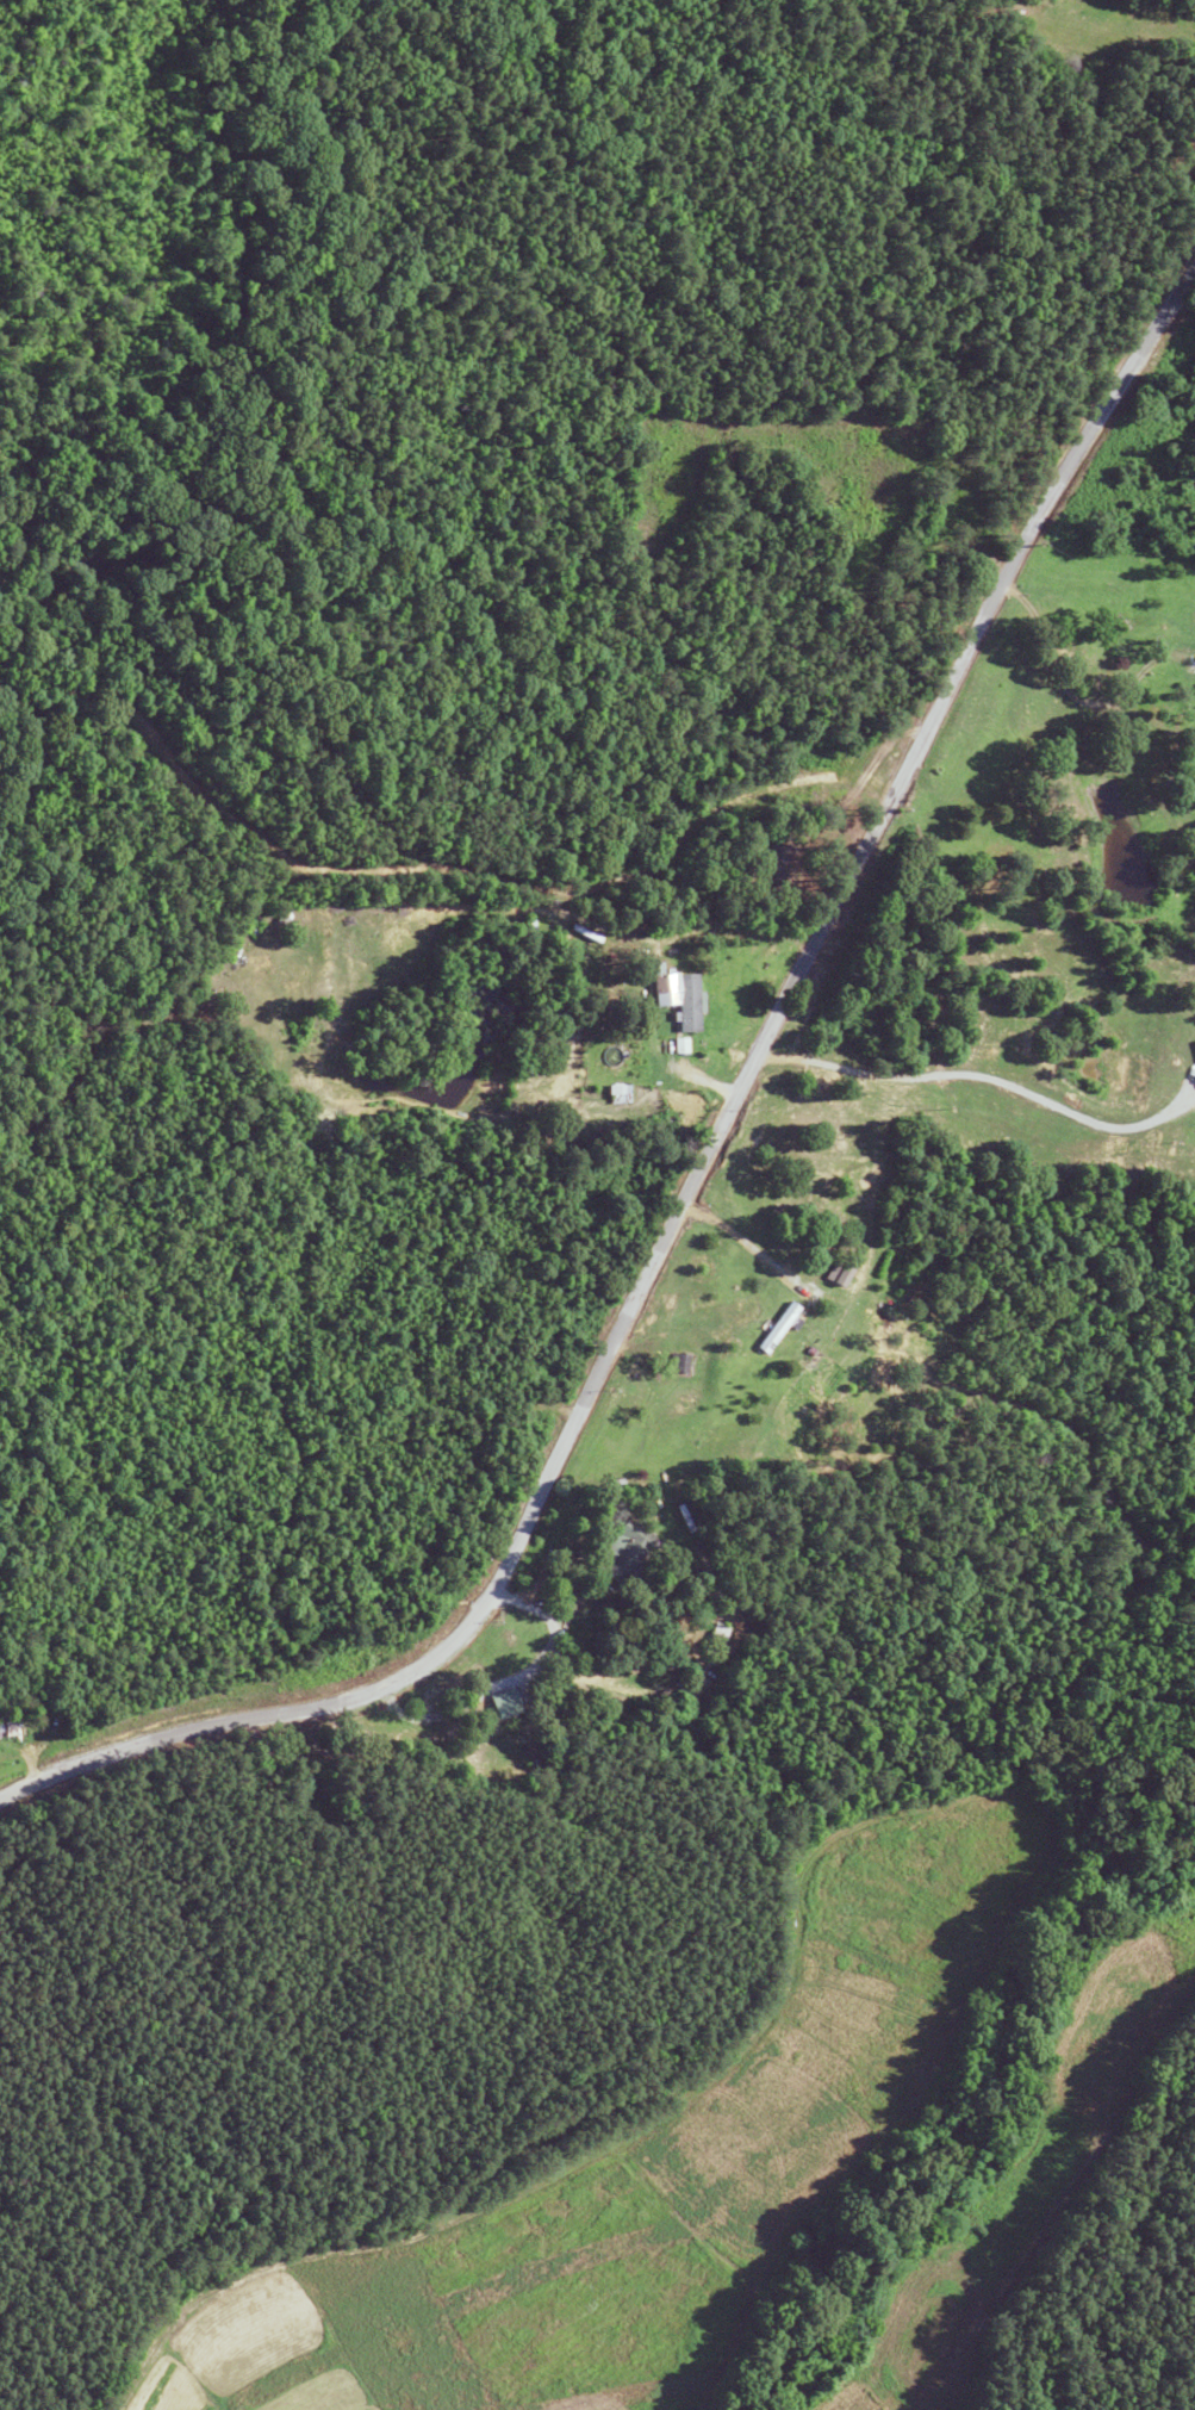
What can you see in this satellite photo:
road: (1097, 688)
building: (766, 865)
building: (672, 1001)
building: (1194, 1049)
road: (707, 1180)
road: (740, 1241)
building: (835, 1273)
building: (778, 1329)
building: (684, 1364)
building: (714, 1632)
road: (544, 1648)
building: (496, 1704)

